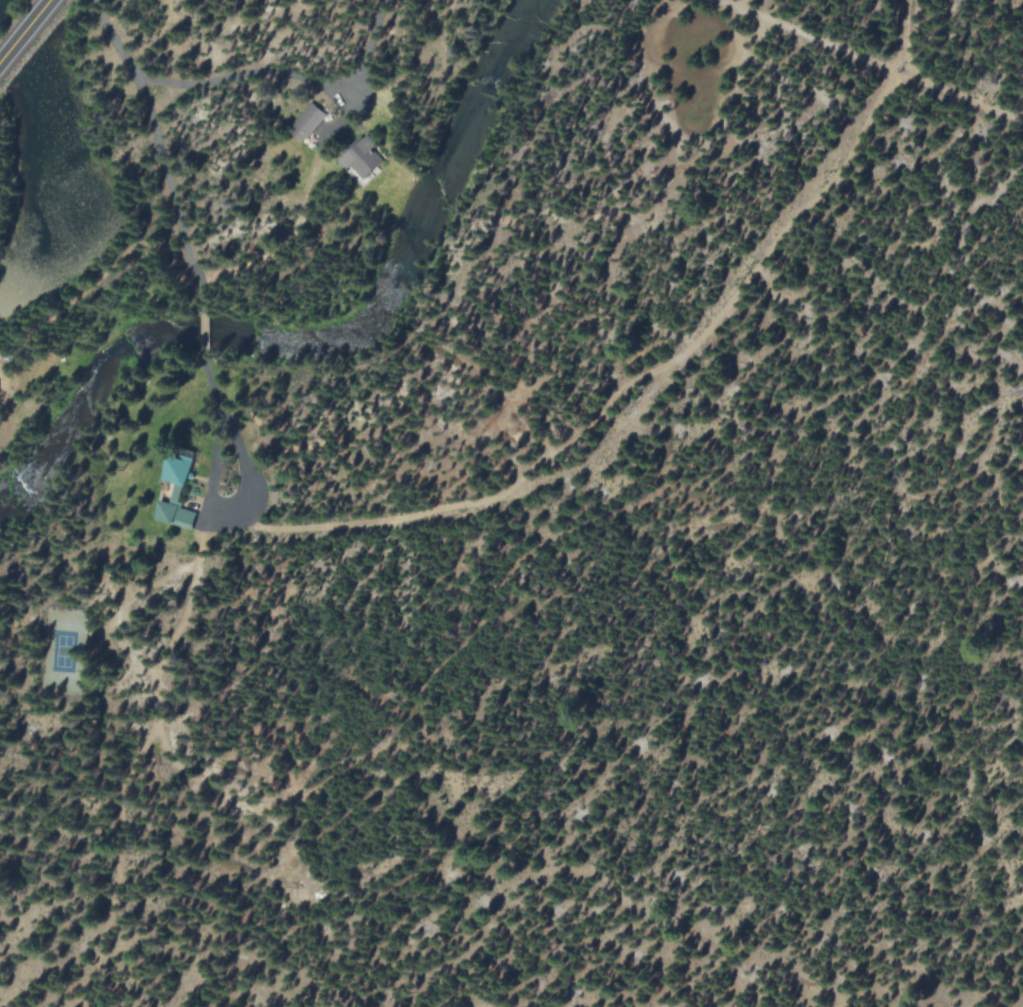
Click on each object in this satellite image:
road: (26, 32)
road: (289, 76)
building: (305, 122)
road: (165, 160)
river: (320, 338)
road: (206, 348)
building: (175, 474)
road: (211, 494)
building: (174, 514)
road: (458, 518)

